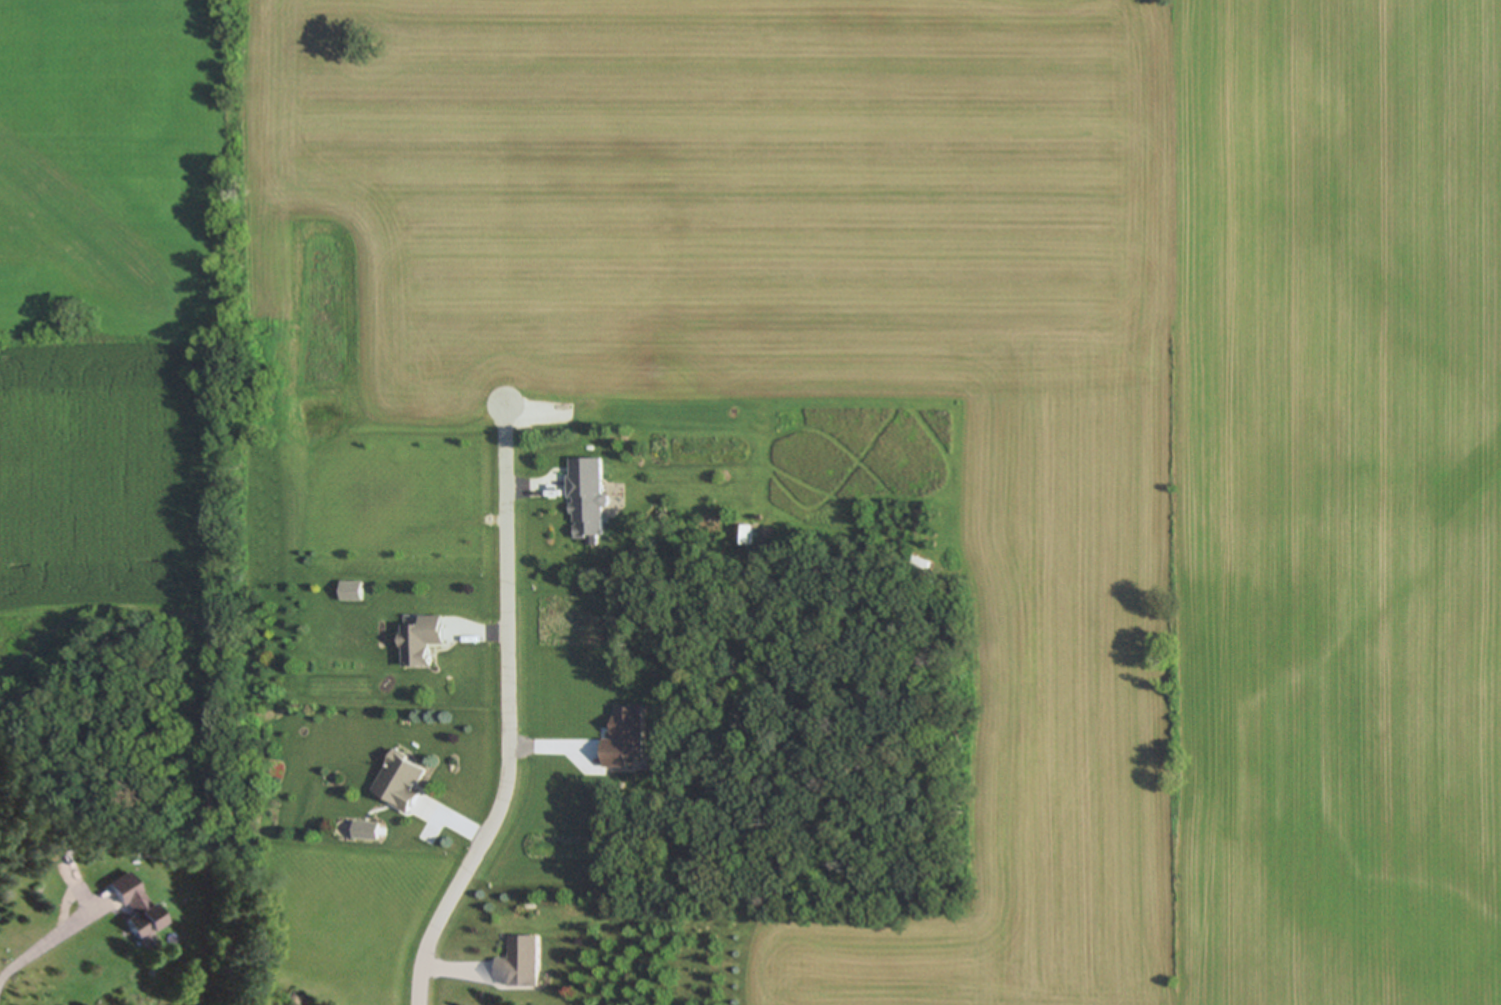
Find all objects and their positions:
building: (587, 500)
building: (422, 641)
road: (511, 725)
building: (403, 783)
building: (134, 906)
road: (37, 946)
building: (521, 965)

